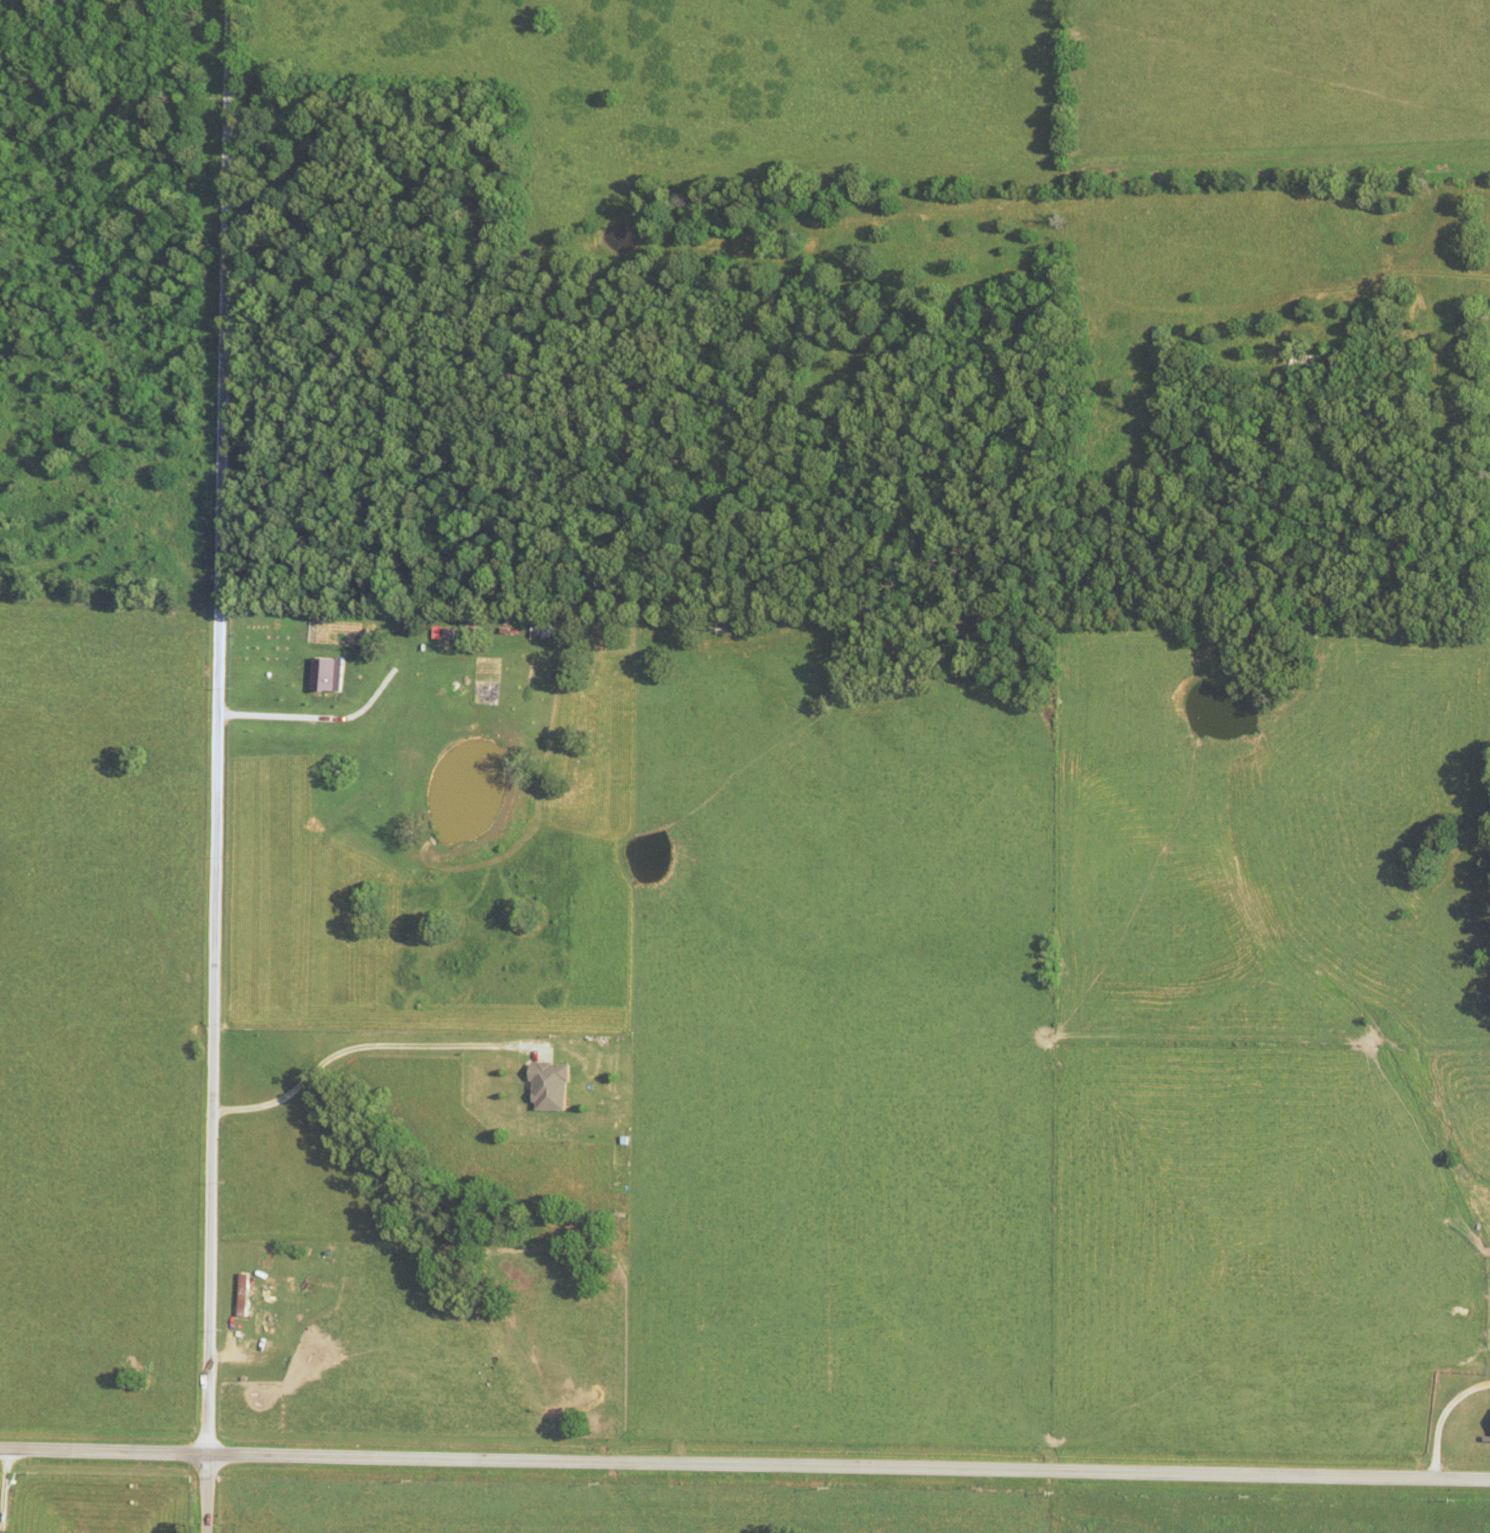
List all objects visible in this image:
road: (218, 766)
road: (365, 1045)
building: (555, 1084)
building: (249, 1293)
road: (744, 1467)
road: (6, 1492)

